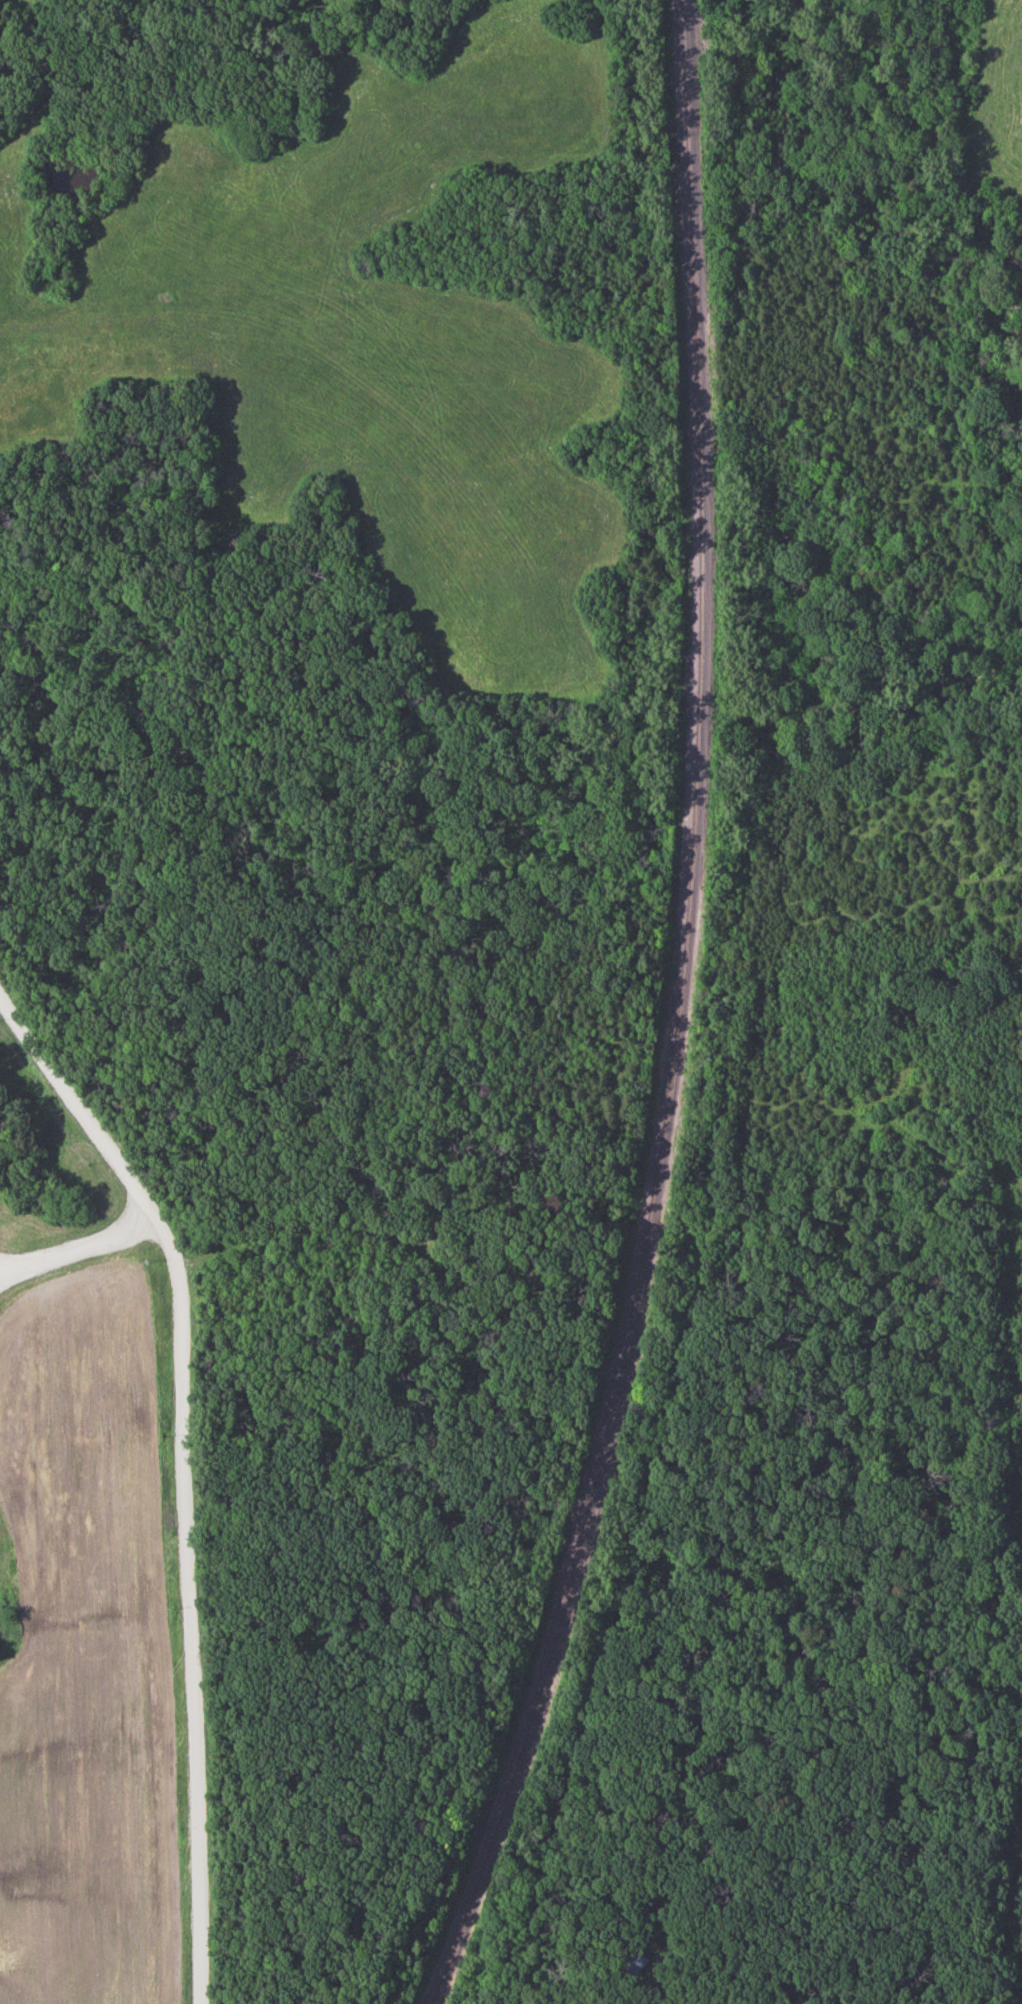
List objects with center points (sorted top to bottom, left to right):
railway: (674, 1017)
road: (180, 1476)

